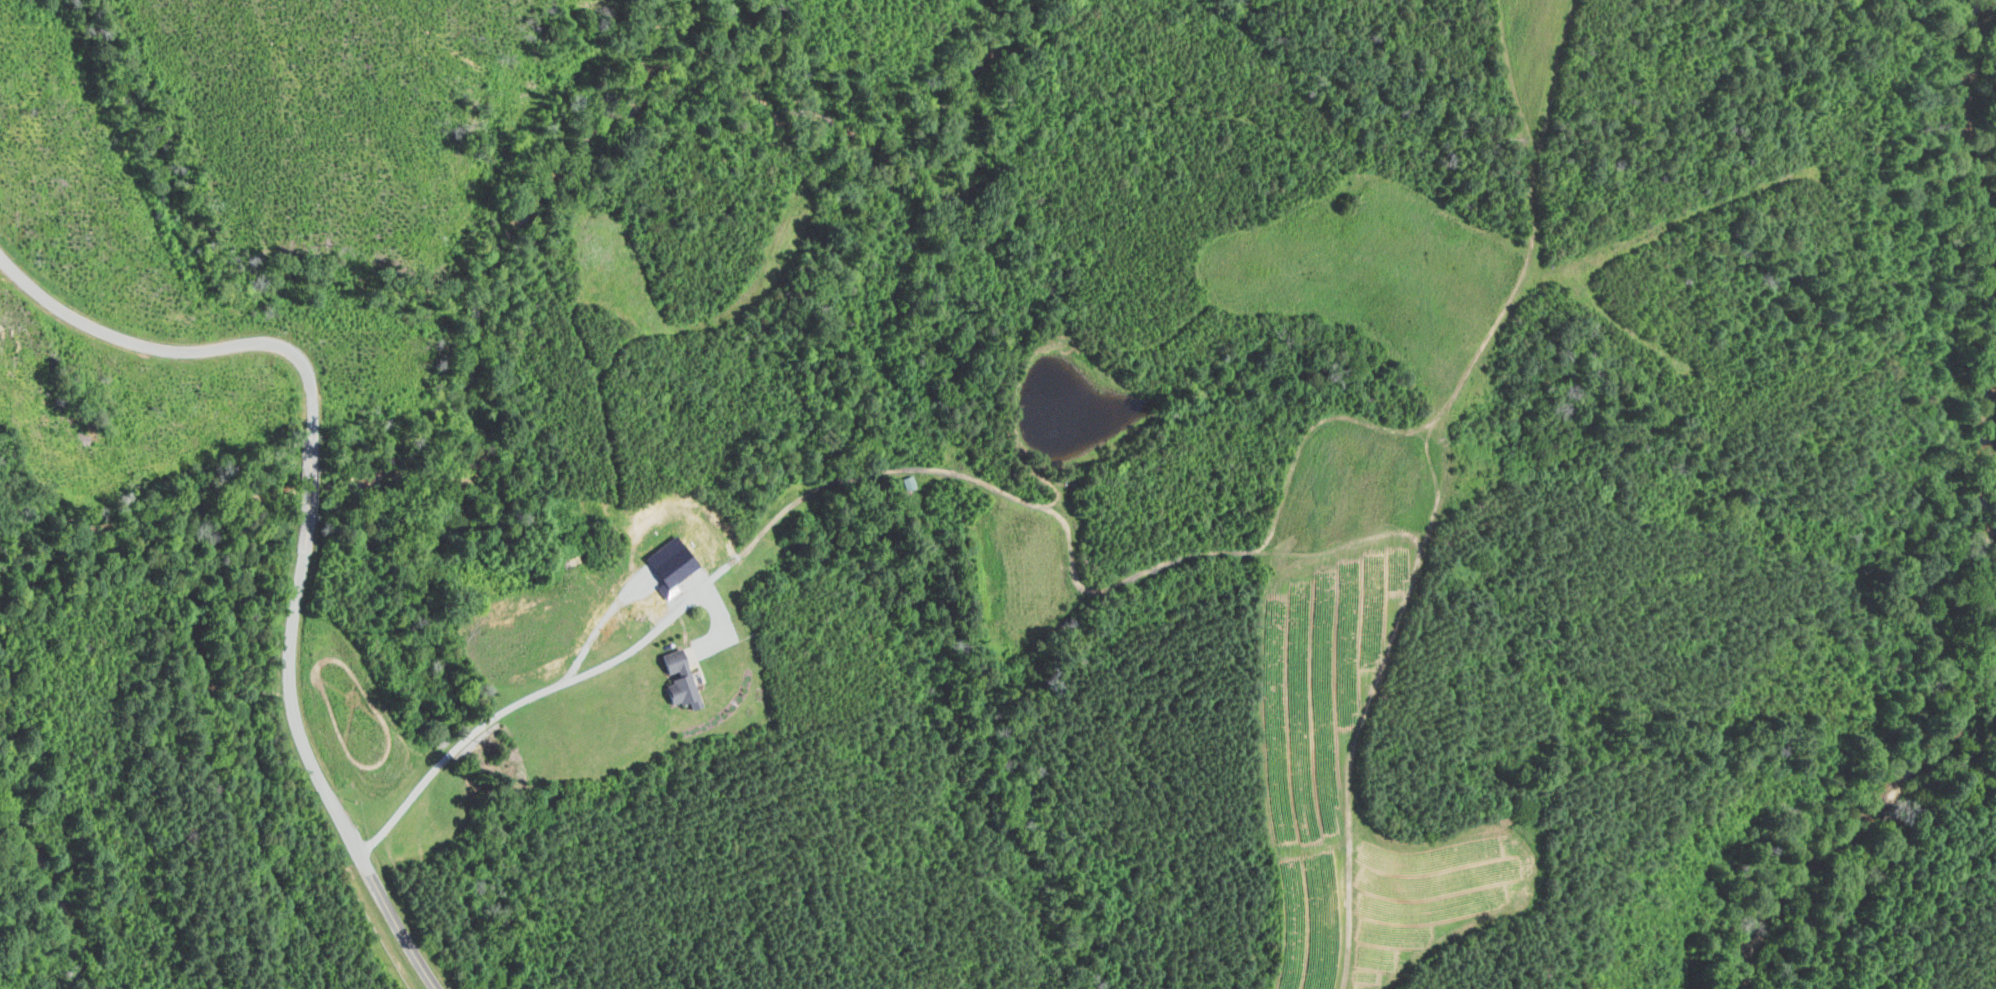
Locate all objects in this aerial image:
road: (177, 351)
road: (309, 480)
building: (677, 678)
road: (535, 693)
road: (315, 770)

